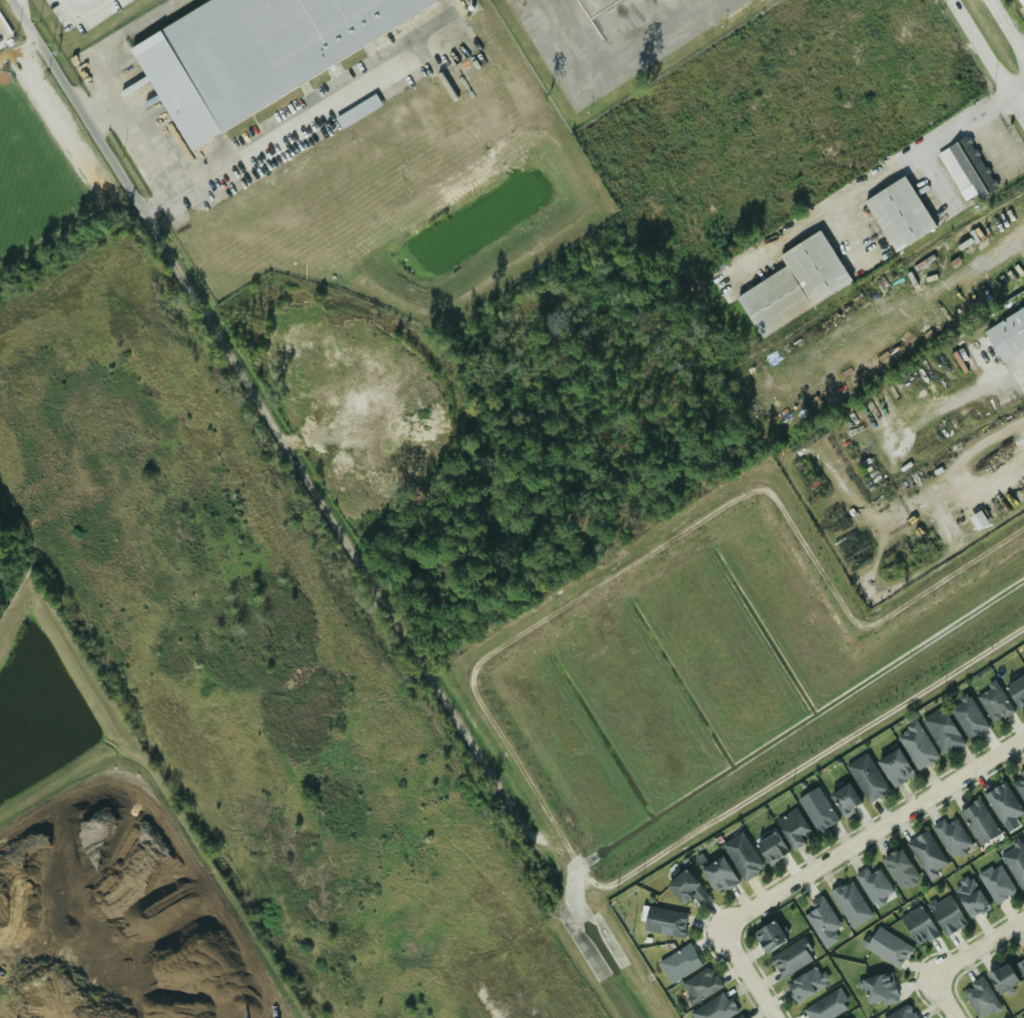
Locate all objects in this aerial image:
building: (1018, 1)
road: (80, 15)
road: (1007, 26)
road: (1022, 46)
road: (16, 49)
building: (253, 54)
road: (986, 62)
road: (1015, 90)
road: (97, 105)
road: (997, 134)
building: (964, 169)
park: (31, 175)
road: (935, 179)
road: (201, 183)
road: (868, 184)
building: (896, 213)
road: (857, 233)
building: (791, 283)
building: (1006, 334)
road: (1021, 371)
road: (250, 391)
road: (957, 476)
building: (977, 520)
building: (1023, 664)
building: (1016, 691)
building: (993, 702)
building: (967, 717)
building: (941, 730)
building: (916, 746)
building: (894, 768)
building: (866, 777)
building: (1019, 784)
building: (844, 799)
building: (1002, 803)
building: (817, 810)
building: (978, 821)
building: (791, 828)
road: (872, 833)
building: (951, 836)
building: (770, 848)
building: (926, 854)
building: (741, 856)
building: (1015, 864)
building: (898, 869)
building: (717, 875)
building: (995, 883)
building: (873, 885)
building: (685, 888)
building: (967, 897)
building: (849, 904)
building: (945, 914)
building: (664, 921)
building: (822, 921)
building: (917, 926)
building: (768, 936)
building: (885, 946)
road: (978, 947)
building: (1023, 954)
building: (791, 957)
building: (679, 963)
building: (1020, 967)
road: (747, 973)
building: (1001, 978)
building: (806, 984)
building: (699, 985)
building: (878, 989)
road: (944, 997)
building: (979, 997)
building: (827, 1006)
building: (714, 1008)
building: (901, 1013)
building: (845, 1017)

